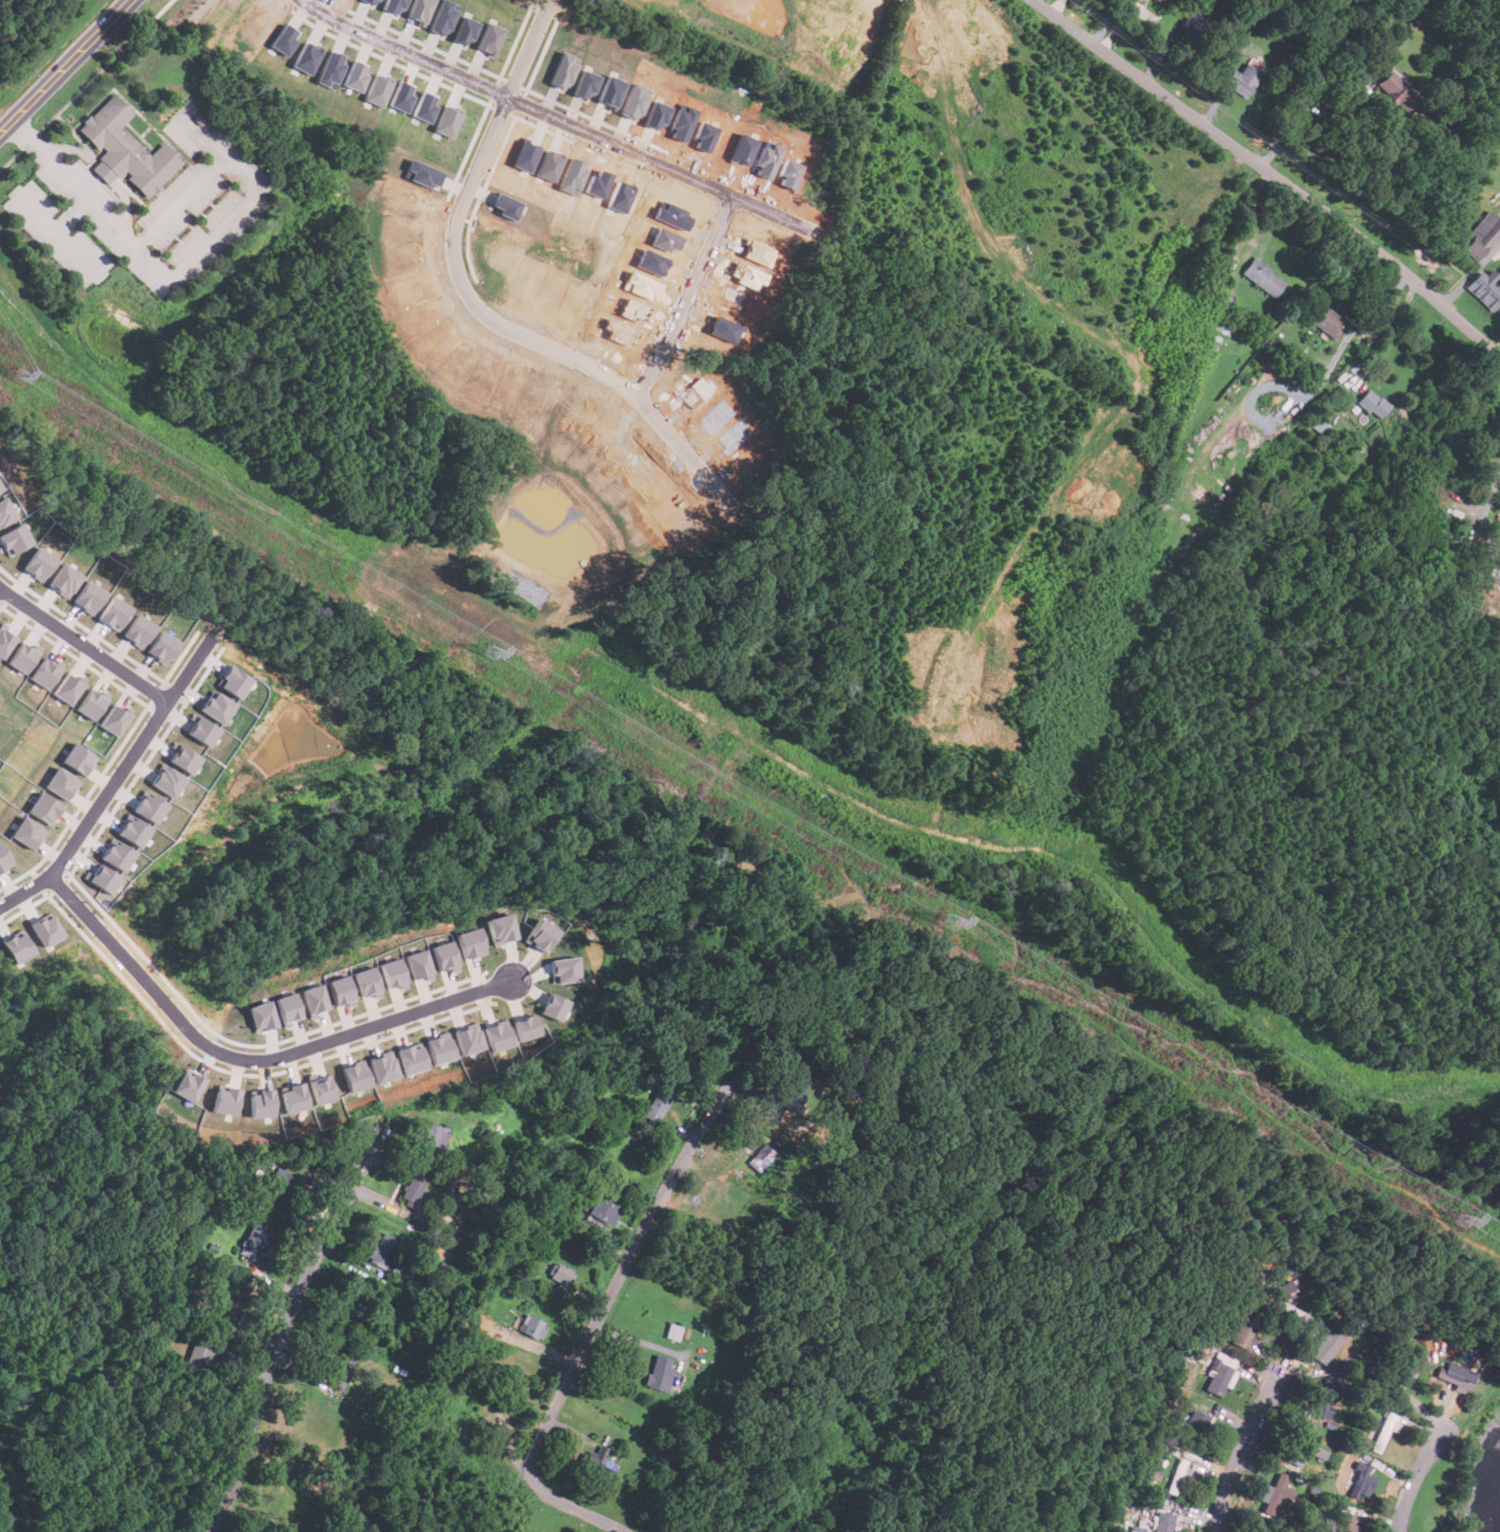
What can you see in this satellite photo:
building: (368, 1)
building: (1158, 1)
road: (1126, 2)
building: (394, 5)
building: (421, 11)
building: (444, 17)
road: (1103, 22)
building: (467, 30)
building: (492, 38)
building: (283, 39)
building: (306, 57)
road: (69, 68)
building: (330, 70)
building: (354, 76)
building: (1242, 79)
building: (378, 88)
building: (1394, 92)
building: (401, 96)
building: (424, 106)
road: (1298, 107)
building: (448, 119)
road: (556, 119)
road: (30, 137)
building: (130, 146)
road: (75, 147)
road: (106, 171)
road: (1272, 173)
road: (128, 201)
road: (181, 201)
road: (72, 213)
road: (57, 231)
road: (456, 237)
building: (1483, 239)
road: (193, 264)
building: (1262, 277)
building: (1484, 289)
road: (684, 294)
building: (1324, 320)
road: (1392, 330)
power tower: (18, 373)
building: (1368, 401)
road: (690, 452)
building: (0, 488)
building: (5, 511)
road: (1486, 511)
building: (13, 539)
building: (38, 563)
building: (64, 579)
building: (89, 597)
building: (114, 613)
building: (139, 630)
building: (5, 641)
road: (83, 646)
building: (163, 647)
power tower: (492, 652)
building: (23, 656)
building: (46, 671)
building: (69, 687)
building: (92, 703)
building: (217, 706)
building: (114, 719)
building: (202, 730)
building: (79, 758)
building: (183, 758)
building: (166, 780)
building: (62, 783)
road: (114, 784)
building: (148, 806)
building: (45, 808)
building: (132, 830)
building: (28, 833)
building: (116, 854)
building: (4, 858)
building: (103, 878)
power tower: (949, 921)
building: (501, 928)
building: (45, 930)
building: (540, 935)
building: (470, 942)
building: (16, 946)
building: (444, 956)
building: (417, 963)
building: (392, 973)
building: (367, 982)
building: (340, 990)
building: (313, 999)
building: (556, 1007)
building: (287, 1008)
building: (527, 1026)
building: (499, 1034)
building: (470, 1039)
building: (441, 1048)
building: (412, 1058)
road: (250, 1059)
building: (385, 1067)
building: (356, 1077)
building: (188, 1086)
building: (322, 1089)
building: (794, 1091)
building: (294, 1096)
building: (226, 1101)
building: (262, 1102)
building: (658, 1104)
building: (434, 1138)
building: (760, 1157)
building: (632, 1169)
building: (281, 1183)
building: (411, 1189)
building: (481, 1206)
building: (602, 1210)
power tower: (1461, 1219)
building: (253, 1241)
building: (383, 1250)
building: (559, 1273)
road: (272, 1280)
building: (1287, 1287)
building: (227, 1310)
road: (597, 1321)
building: (531, 1326)
building: (1246, 1329)
building: (673, 1331)
road: (278, 1338)
road: (637, 1340)
building: (1325, 1346)
building: (200, 1355)
building: (342, 1371)
building: (659, 1372)
building: (1220, 1373)
building: (1456, 1376)
building: (510, 1377)
building: (1323, 1397)
building: (1196, 1423)
building: (1385, 1429)
building: (1299, 1445)
building: (1319, 1452)
road: (1239, 1454)
building: (599, 1461)
building: (1361, 1479)
road: (1413, 1480)
building: (1274, 1492)
building: (1163, 1521)
building: (1347, 1523)
building: (1135, 1528)

